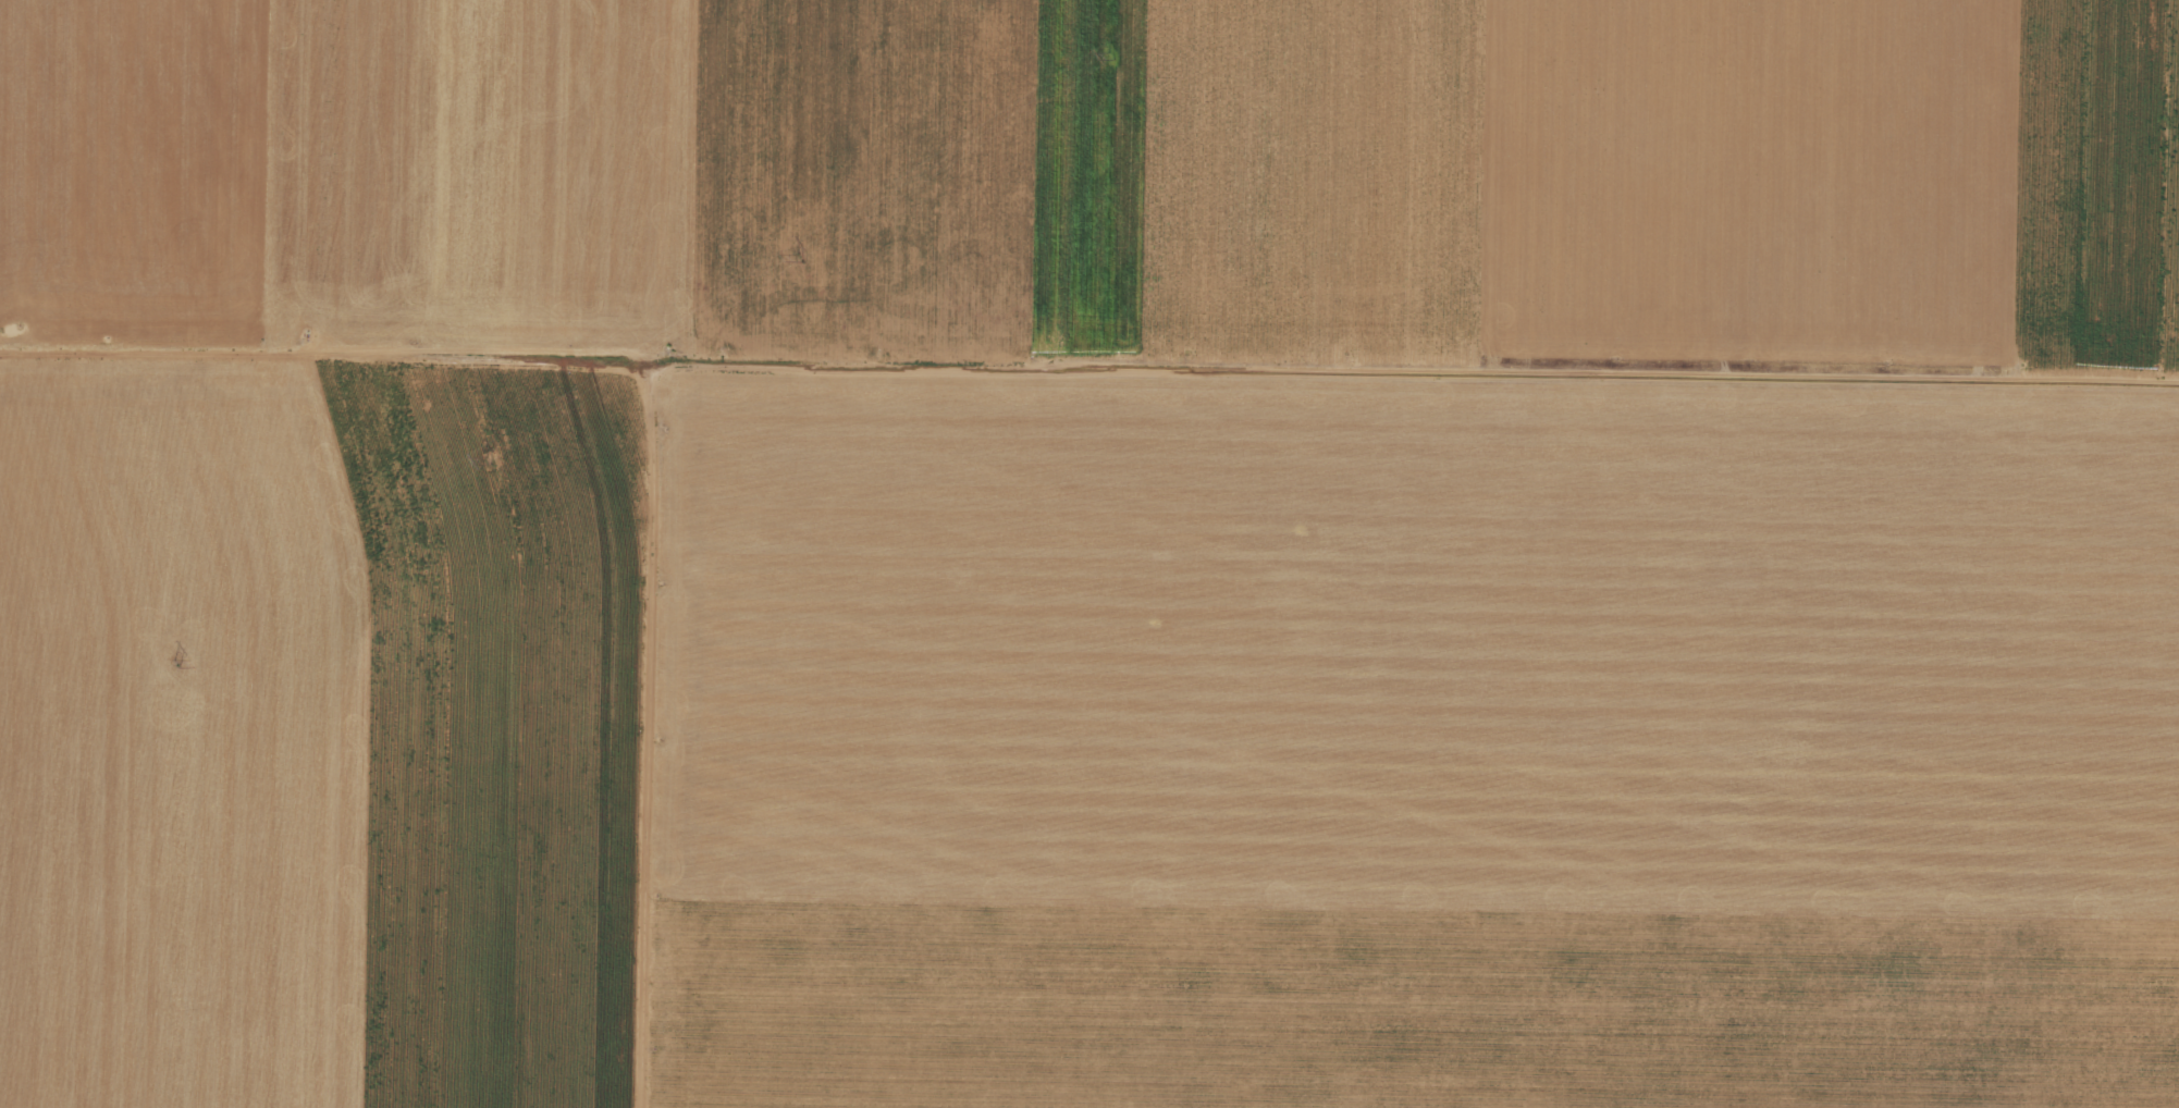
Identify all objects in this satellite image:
power tower: (1111, 52)
power tower: (804, 253)
power tower: (491, 456)
power tower: (175, 662)

